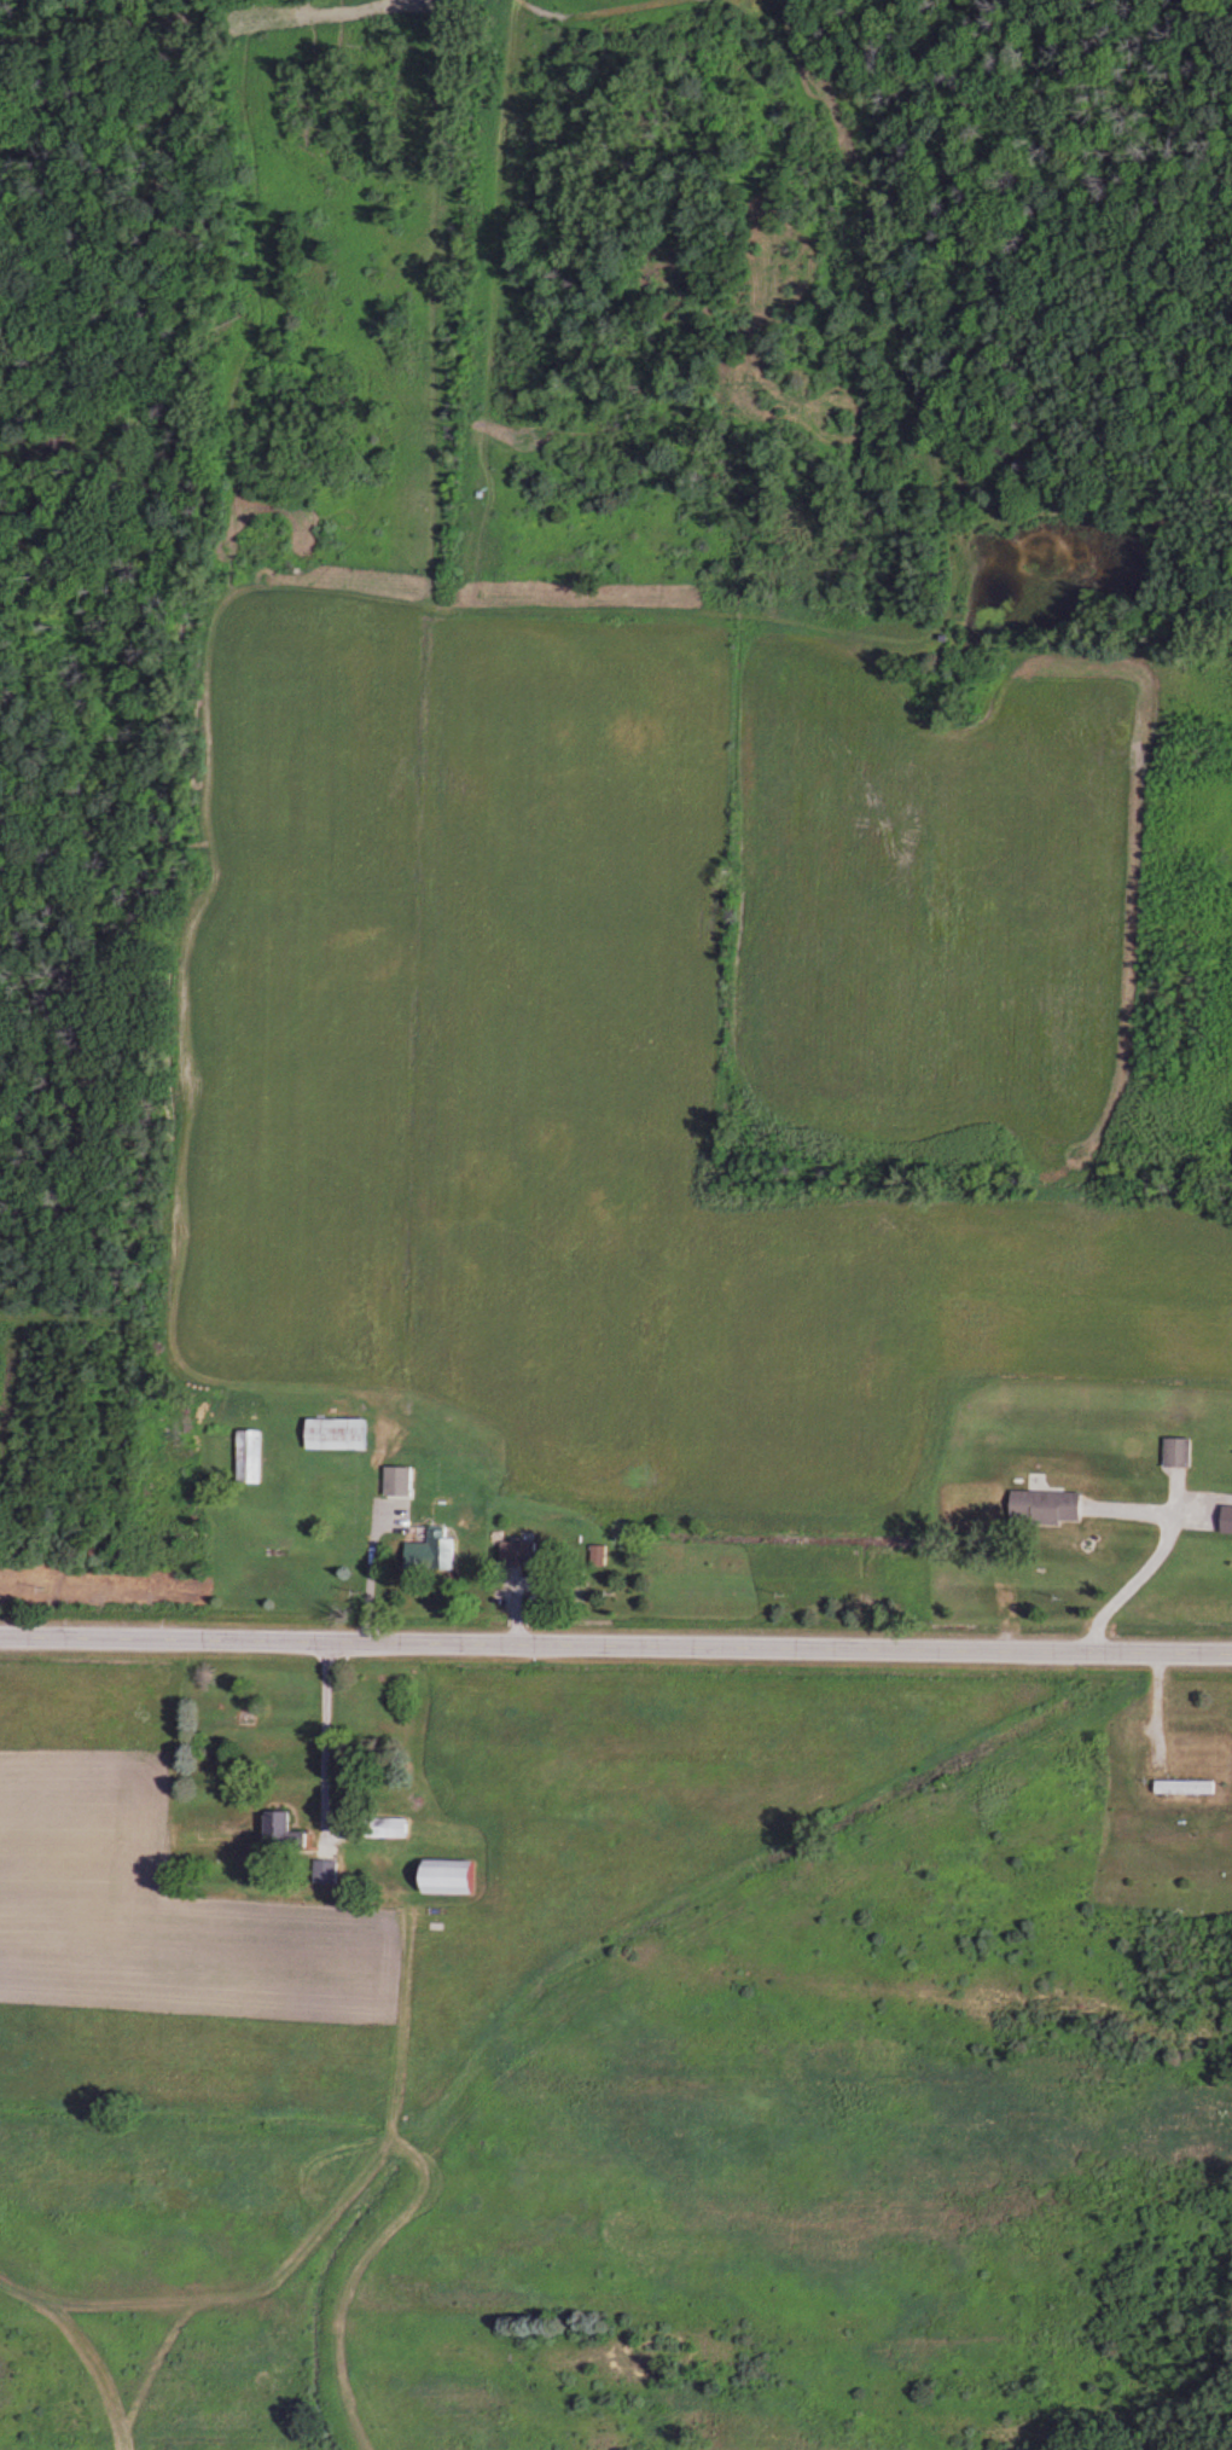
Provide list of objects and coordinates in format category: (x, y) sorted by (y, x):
building: (330, 1433)
building: (1173, 1450)
building: (244, 1456)
building: (394, 1479)
building: (1040, 1505)
building: (513, 1550)
building: (411, 1554)
building: (594, 1554)
road: (1149, 1562)
road: (364, 1572)
road: (616, 1644)
building: (1179, 1784)
building: (380, 1825)
building: (277, 1830)
building: (196, 1852)
building: (438, 1876)

